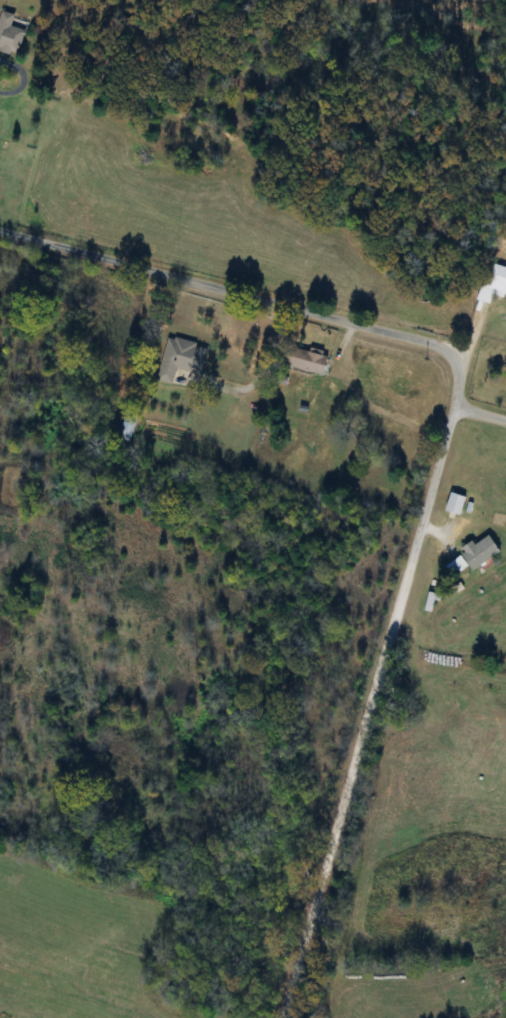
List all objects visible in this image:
building: (10, 35)
road: (22, 77)
building: (493, 284)
building: (181, 360)
building: (305, 361)
road: (481, 414)
building: (128, 426)
road: (441, 460)
building: (455, 504)
building: (479, 552)
building: (432, 603)

